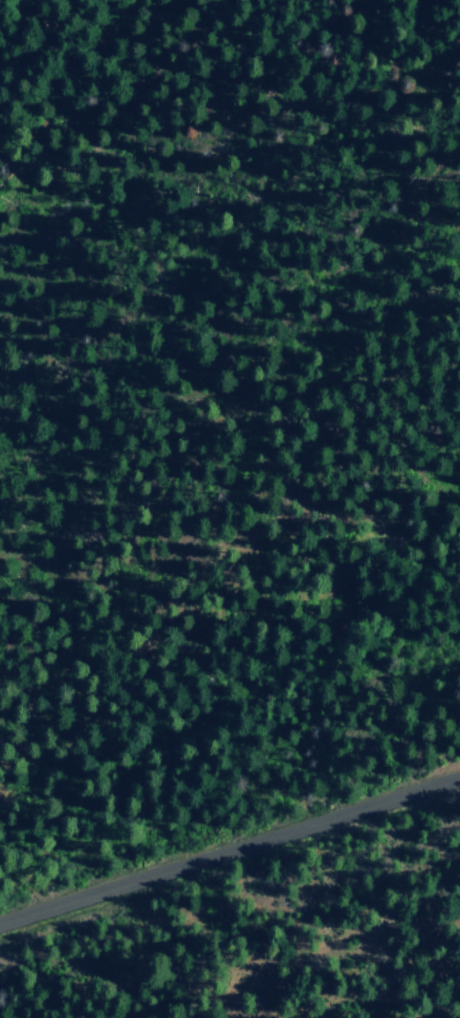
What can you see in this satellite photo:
road: (230, 852)

